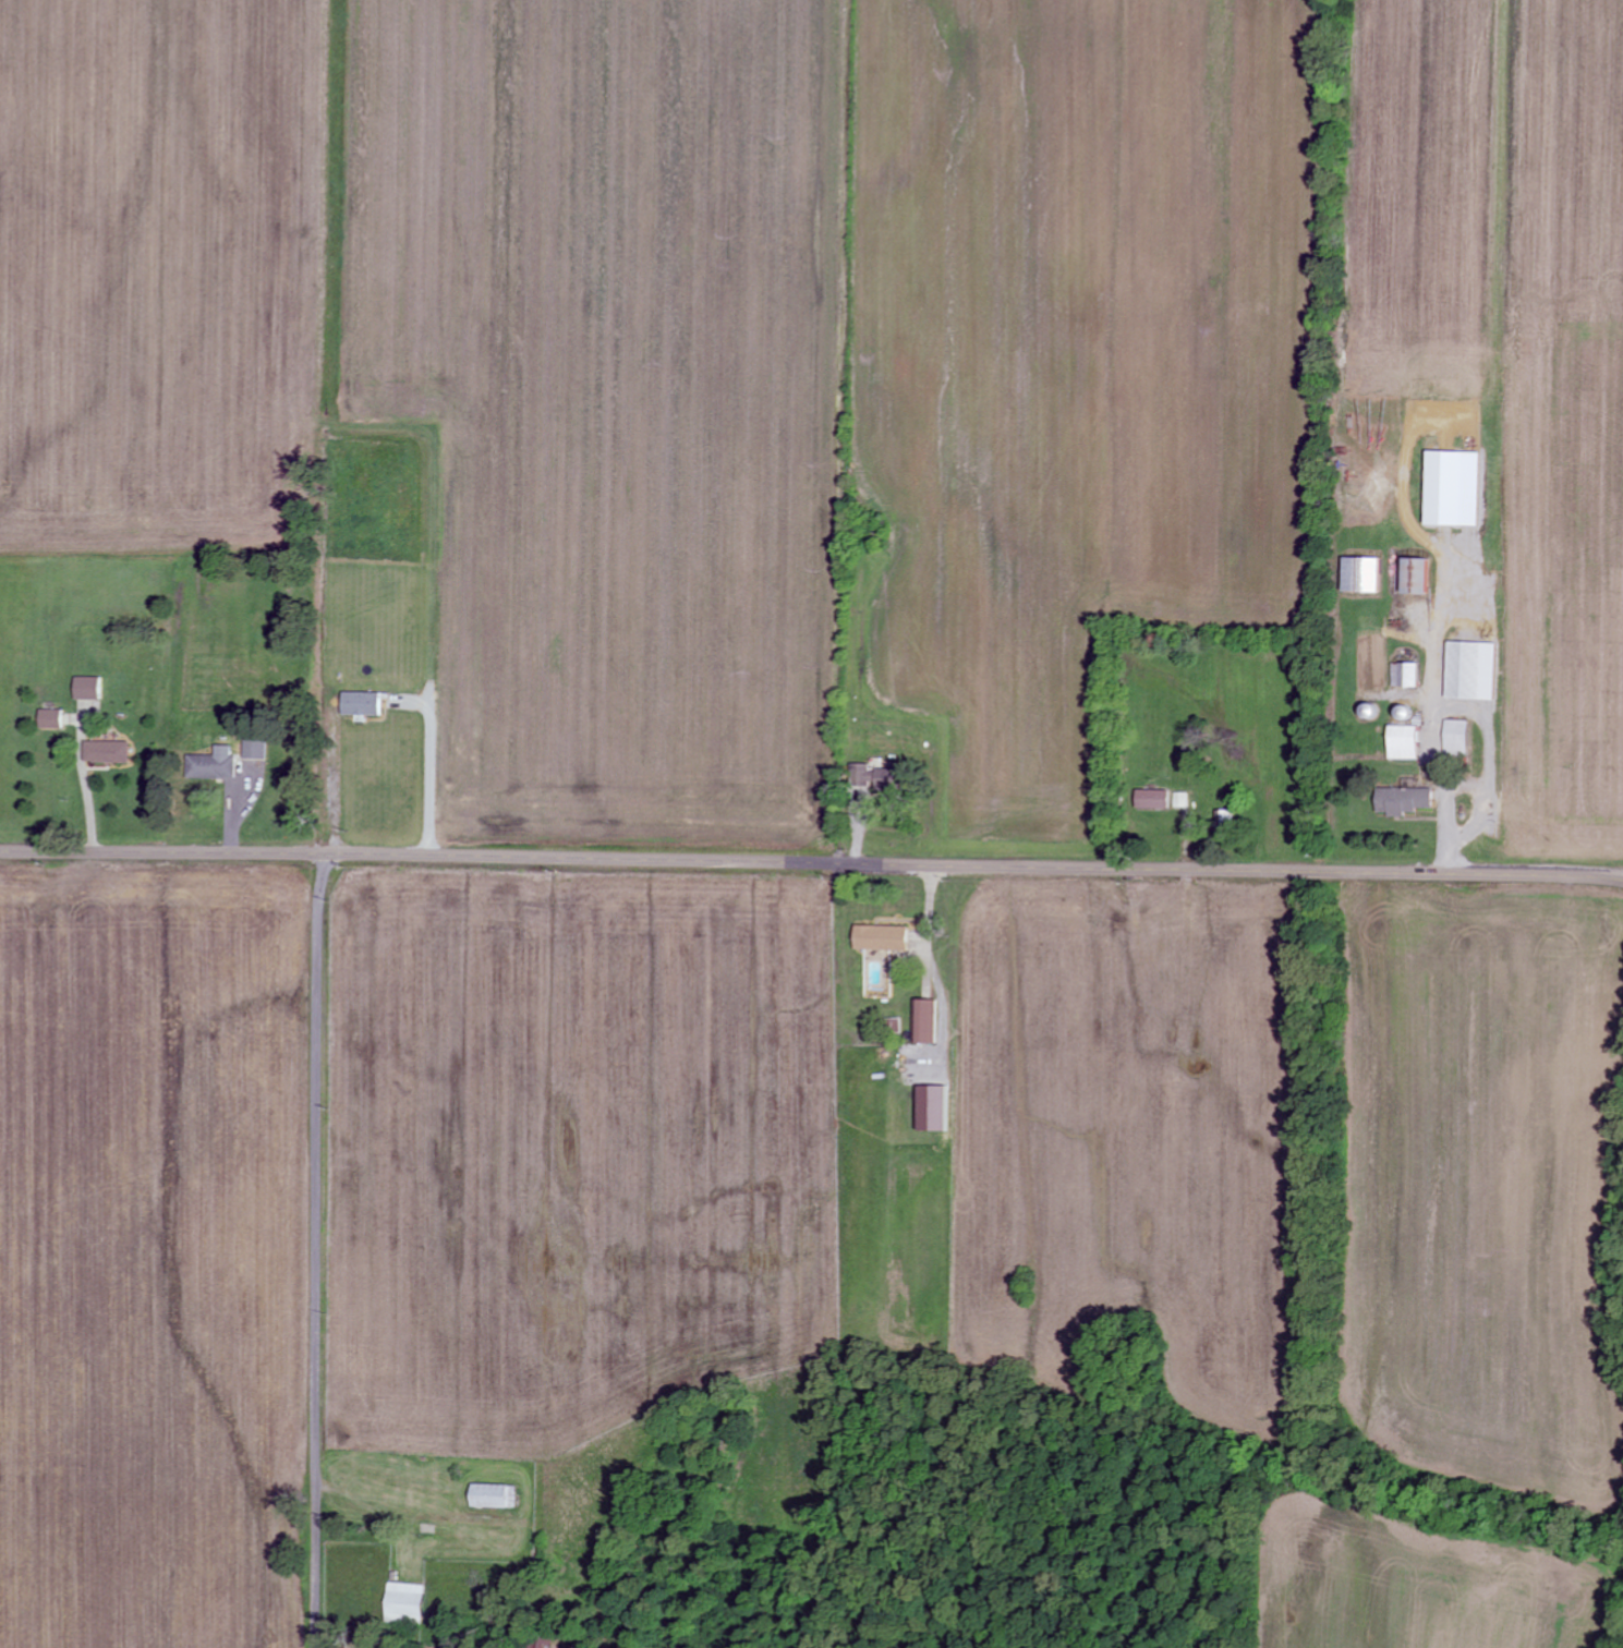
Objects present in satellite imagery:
building: (1452, 488)
building: (1360, 574)
building: (1416, 575)
building: (1470, 671)
building: (1404, 676)
building: (86, 689)
building: (361, 704)
building: (50, 719)
building: (1455, 738)
building: (1403, 743)
building: (255, 749)
building: (107, 752)
building: (211, 765)
building: (860, 775)
building: (886, 779)
building: (1152, 800)
building: (1404, 801)
road: (811, 863)
building: (880, 938)
building: (925, 1022)
building: (932, 1110)
road: (316, 1250)
building: (494, 1498)
building: (404, 1604)

